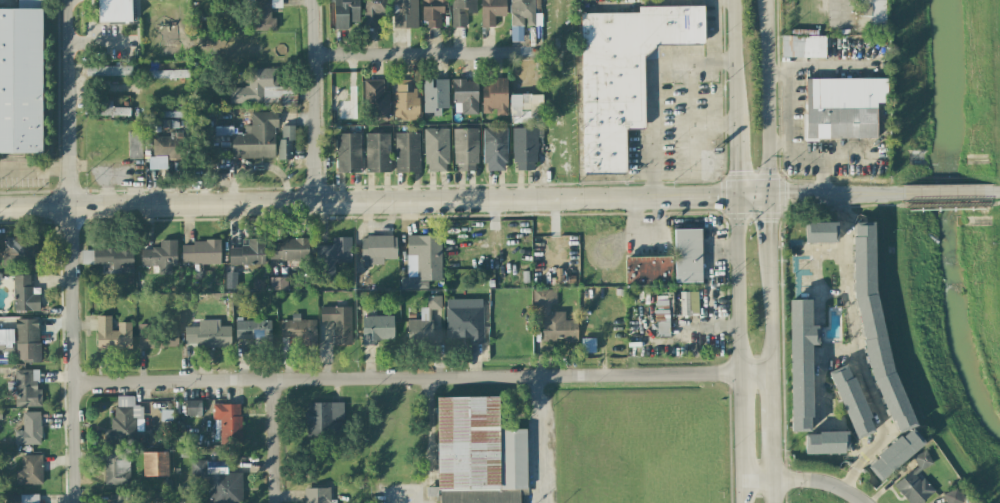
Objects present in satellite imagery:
building: (114, 10)
building: (373, 11)
building: (461, 11)
building: (491, 11)
building: (345, 13)
building: (405, 13)
building: (432, 13)
building: (263, 14)
building: (872, 15)
building: (521, 16)
road: (711, 22)
road: (563, 25)
building: (803, 46)
road: (439, 53)
road: (732, 66)
building: (108, 71)
road: (818, 71)
building: (167, 74)
building: (623, 75)
building: (21, 78)
building: (263, 90)
road: (656, 92)
building: (435, 95)
building: (466, 95)
building: (495, 97)
building: (377, 98)
road: (764, 98)
road: (314, 101)
building: (405, 101)
road: (68, 103)
building: (525, 105)
building: (110, 107)
building: (842, 107)
road: (694, 125)
road: (789, 130)
building: (253, 137)
building: (285, 142)
road: (778, 143)
building: (134, 145)
building: (436, 149)
building: (465, 149)
building: (495, 149)
building: (524, 149)
building: (165, 150)
building: (348, 152)
building: (377, 152)
building: (406, 152)
road: (735, 164)
road: (823, 178)
road: (995, 191)
road: (947, 193)
traffic signals: (736, 197)
traffic signals: (765, 197)
road: (452, 201)
river: (955, 216)
road: (765, 228)
building: (820, 232)
building: (378, 248)
building: (289, 249)
building: (19, 250)
building: (201, 252)
building: (248, 253)
building: (687, 255)
building: (160, 256)
building: (332, 256)
building: (110, 259)
building: (422, 261)
building: (648, 270)
road: (815, 270)
building: (278, 283)
road: (736, 285)
building: (25, 294)
building: (689, 303)
road: (768, 316)
building: (661, 317)
building: (553, 318)
building: (464, 319)
building: (423, 321)
building: (338, 323)
building: (297, 329)
building: (376, 329)
building: (253, 330)
building: (113, 334)
building: (208, 334)
building: (6, 337)
building: (156, 337)
building: (27, 339)
road: (855, 350)
road: (835, 353)
road: (73, 354)
building: (800, 364)
road: (753, 372)
road: (404, 378)
road: (736, 380)
building: (27, 388)
building: (851, 401)
building: (193, 407)
building: (0, 409)
building: (165, 415)
road: (770, 416)
building: (324, 419)
building: (124, 421)
building: (228, 422)
building: (29, 429)
road: (737, 433)
road: (548, 439)
road: (431, 440)
road: (273, 442)
building: (826, 442)
building: (478, 453)
building: (895, 454)
building: (155, 464)
building: (116, 467)
road: (771, 469)
building: (30, 470)
road: (755, 479)
building: (219, 481)
building: (915, 481)
road: (821, 483)
road: (738, 491)
road: (772, 491)
building: (318, 495)
building: (953, 496)
building: (21, 498)
building: (119, 499)

